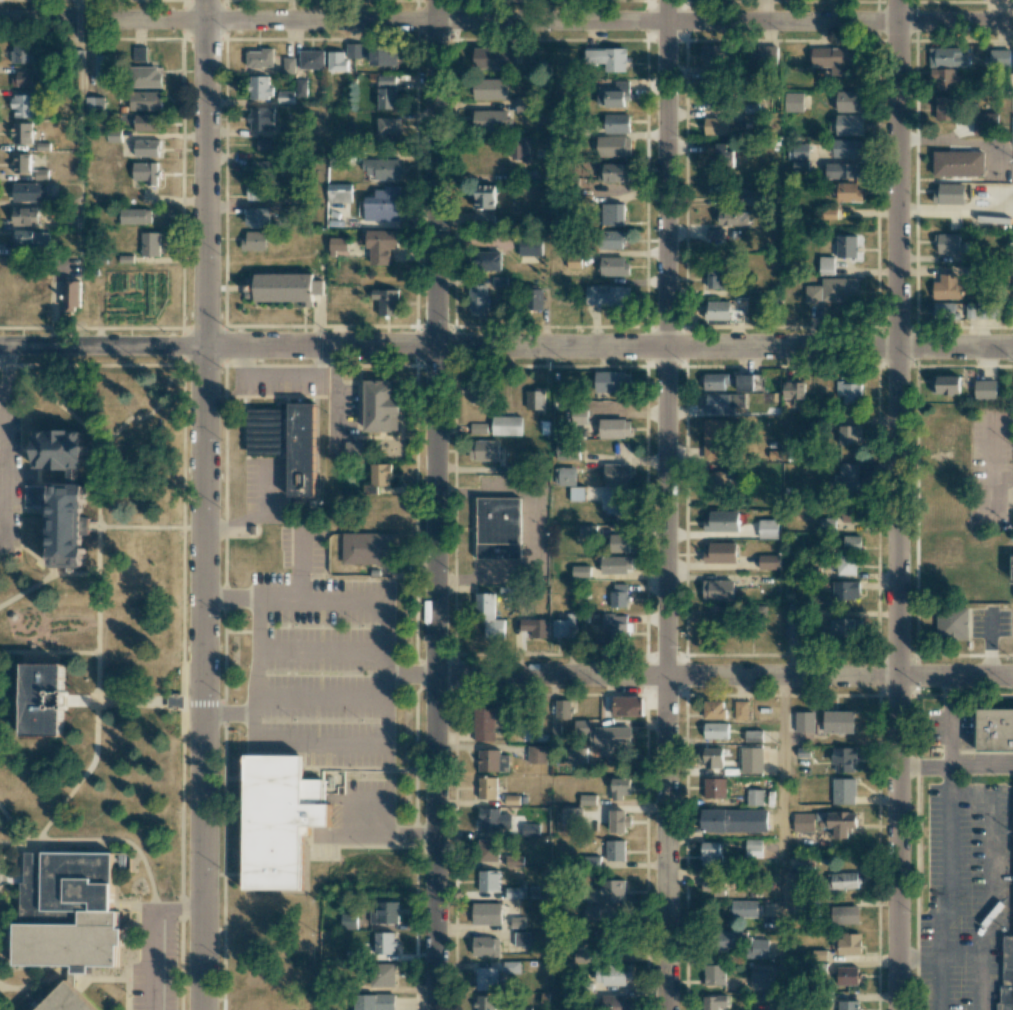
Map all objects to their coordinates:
road: (506, 18)
building: (355, 50)
building: (137, 52)
building: (21, 53)
building: (513, 55)
building: (713, 55)
building: (767, 55)
building: (381, 56)
building: (947, 57)
building: (259, 58)
building: (490, 58)
building: (607, 58)
building: (997, 58)
building: (311, 59)
building: (834, 59)
building: (336, 61)
building: (288, 65)
building: (102, 66)
building: (144, 77)
building: (711, 77)
building: (25, 79)
building: (945, 79)
building: (260, 88)
building: (301, 88)
building: (490, 89)
building: (386, 92)
building: (613, 95)
building: (285, 97)
building: (144, 101)
building: (713, 101)
building: (793, 101)
building: (849, 101)
building: (93, 104)
building: (523, 105)
building: (21, 106)
building: (945, 108)
building: (751, 115)
building: (261, 118)
building: (490, 120)
building: (146, 123)
building: (614, 123)
building: (985, 123)
building: (849, 125)
building: (388, 126)
building: (717, 126)
building: (21, 133)
building: (267, 145)
building: (614, 147)
building: (845, 147)
building: (146, 148)
building: (520, 148)
building: (800, 151)
building: (718, 152)
building: (22, 163)
building: (958, 163)
building: (799, 165)
building: (382, 168)
building: (263, 169)
building: (841, 170)
building: (615, 172)
building: (146, 173)
building: (26, 192)
building: (259, 192)
building: (848, 192)
building: (338, 193)
building: (949, 194)
building: (483, 196)
building: (382, 205)
building: (612, 214)
building: (829, 214)
building: (25, 216)
building: (135, 216)
building: (258, 217)
building: (484, 217)
building: (733, 218)
building: (714, 235)
building: (31, 238)
building: (611, 239)
building: (254, 240)
building: (949, 243)
building: (150, 244)
building: (338, 245)
building: (381, 245)
building: (529, 247)
building: (846, 247)
building: (574, 262)
building: (825, 265)
building: (613, 266)
building: (719, 278)
building: (947, 287)
building: (283, 288)
building: (833, 291)
building: (607, 295)
building: (65, 300)
building: (477, 300)
building: (534, 300)
building: (386, 301)
building: (717, 310)
building: (943, 311)
road: (437, 336)
road: (506, 350)
road: (7, 379)
building: (611, 382)
building: (719, 382)
parking lot: (277, 383)
building: (745, 383)
building: (945, 385)
building: (793, 390)
building: (985, 390)
building: (475, 392)
building: (848, 392)
building: (534, 399)
building: (722, 403)
road: (61, 405)
building: (381, 407)
building: (506, 425)
building: (614, 429)
building: (848, 435)
building: (715, 439)
building: (287, 443)
building: (353, 448)
building: (61, 450)
building: (484, 450)
building: (566, 450)
road: (993, 469)
building: (380, 474)
building: (616, 474)
building: (564, 476)
road: (7, 477)
building: (850, 479)
building: (716, 481)
parking lot: (10, 483)
parking lot: (263, 491)
building: (577, 494)
building: (613, 502)
road: (669, 504)
road: (206, 505)
road: (900, 505)
road: (1003, 506)
building: (848, 514)
road: (259, 517)
building: (721, 521)
building: (71, 522)
building: (826, 523)
building: (499, 527)
building: (768, 529)
building: (587, 531)
road: (4, 543)
building: (618, 543)
building: (851, 543)
building: (367, 548)
building: (721, 552)
building: (769, 562)
building: (616, 564)
road: (297, 565)
building: (846, 566)
building: (1012, 568)
road: (49, 570)
building: (581, 571)
road: (100, 581)
road: (28, 589)
building: (718, 590)
building: (845, 590)
building: (619, 595)
road: (231, 599)
building: (718, 614)
building: (489, 618)
road: (990, 621)
parking lot: (991, 622)
building: (953, 624)
building: (562, 625)
building: (794, 626)
building: (536, 627)
building: (616, 627)
building: (845, 627)
road: (320, 650)
road: (49, 653)
road: (990, 658)
parking lot: (318, 659)
road: (411, 673)
road: (725, 676)
road: (12, 698)
road: (319, 698)
building: (44, 701)
building: (175, 701)
road: (81, 702)
building: (627, 706)
building: (562, 709)
building: (714, 709)
building: (740, 710)
road: (229, 716)
building: (804, 722)
building: (838, 722)
road: (950, 722)
building: (483, 724)
building: (515, 724)
building: (530, 730)
building: (715, 730)
building: (995, 730)
building: (753, 736)
building: (609, 739)
road: (382, 745)
building: (536, 754)
building: (576, 755)
building: (713, 758)
building: (844, 759)
building: (752, 760)
building: (492, 761)
road: (937, 766)
road: (981, 766)
building: (486, 788)
building: (620, 788)
building: (715, 788)
building: (844, 791)
building: (754, 797)
building: (587, 799)
building: (572, 816)
building: (493, 819)
building: (734, 820)
building: (619, 821)
building: (803, 822)
building: (837, 822)
building: (280, 823)
road: (12, 825)
building: (530, 830)
road: (98, 840)
road: (437, 841)
road: (782, 843)
building: (753, 848)
building: (487, 850)
building: (615, 850)
building: (711, 854)
building: (513, 861)
building: (842, 880)
building: (488, 881)
road: (992, 882)
building: (708, 886)
building: (612, 891)
building: (513, 893)
road: (948, 902)
building: (745, 909)
building: (383, 912)
road: (179, 913)
building: (486, 913)
building: (72, 914)
building: (846, 915)
building: (348, 921)
building: (518, 922)
building: (521, 939)
building: (1008, 939)
building: (727, 940)
building: (384, 943)
building: (846, 944)
building: (485, 946)
building: (757, 948)
building: (582, 950)
road: (938, 955)
parking lot: (155, 958)
road: (155, 962)
building: (714, 974)
building: (379, 976)
building: (612, 976)
building: (847, 976)
building: (254, 977)
building: (486, 979)
building: (759, 980)
road: (30, 985)
building: (67, 1000)
building: (374, 1002)
building: (484, 1002)
building: (616, 1002)
building: (713, 1002)
building: (849, 1005)
building: (521, 1008)

